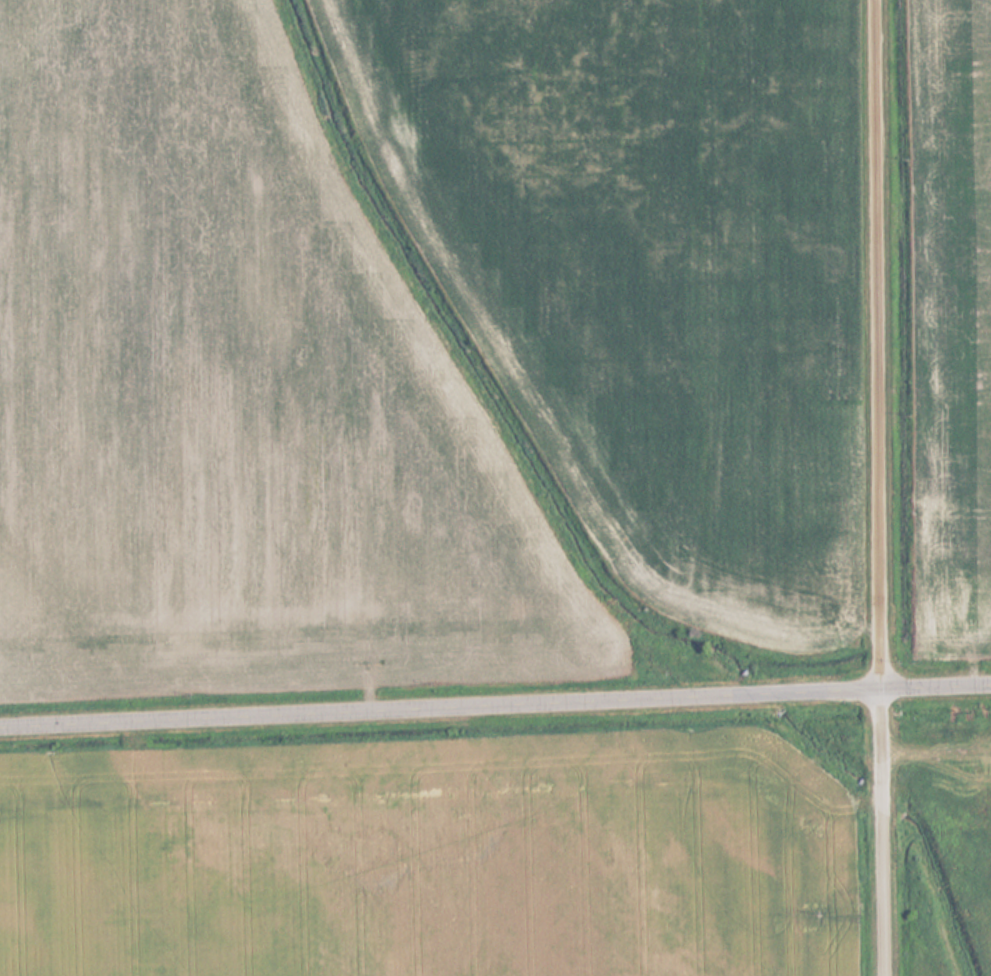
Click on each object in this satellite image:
road: (885, 488)
road: (495, 706)

